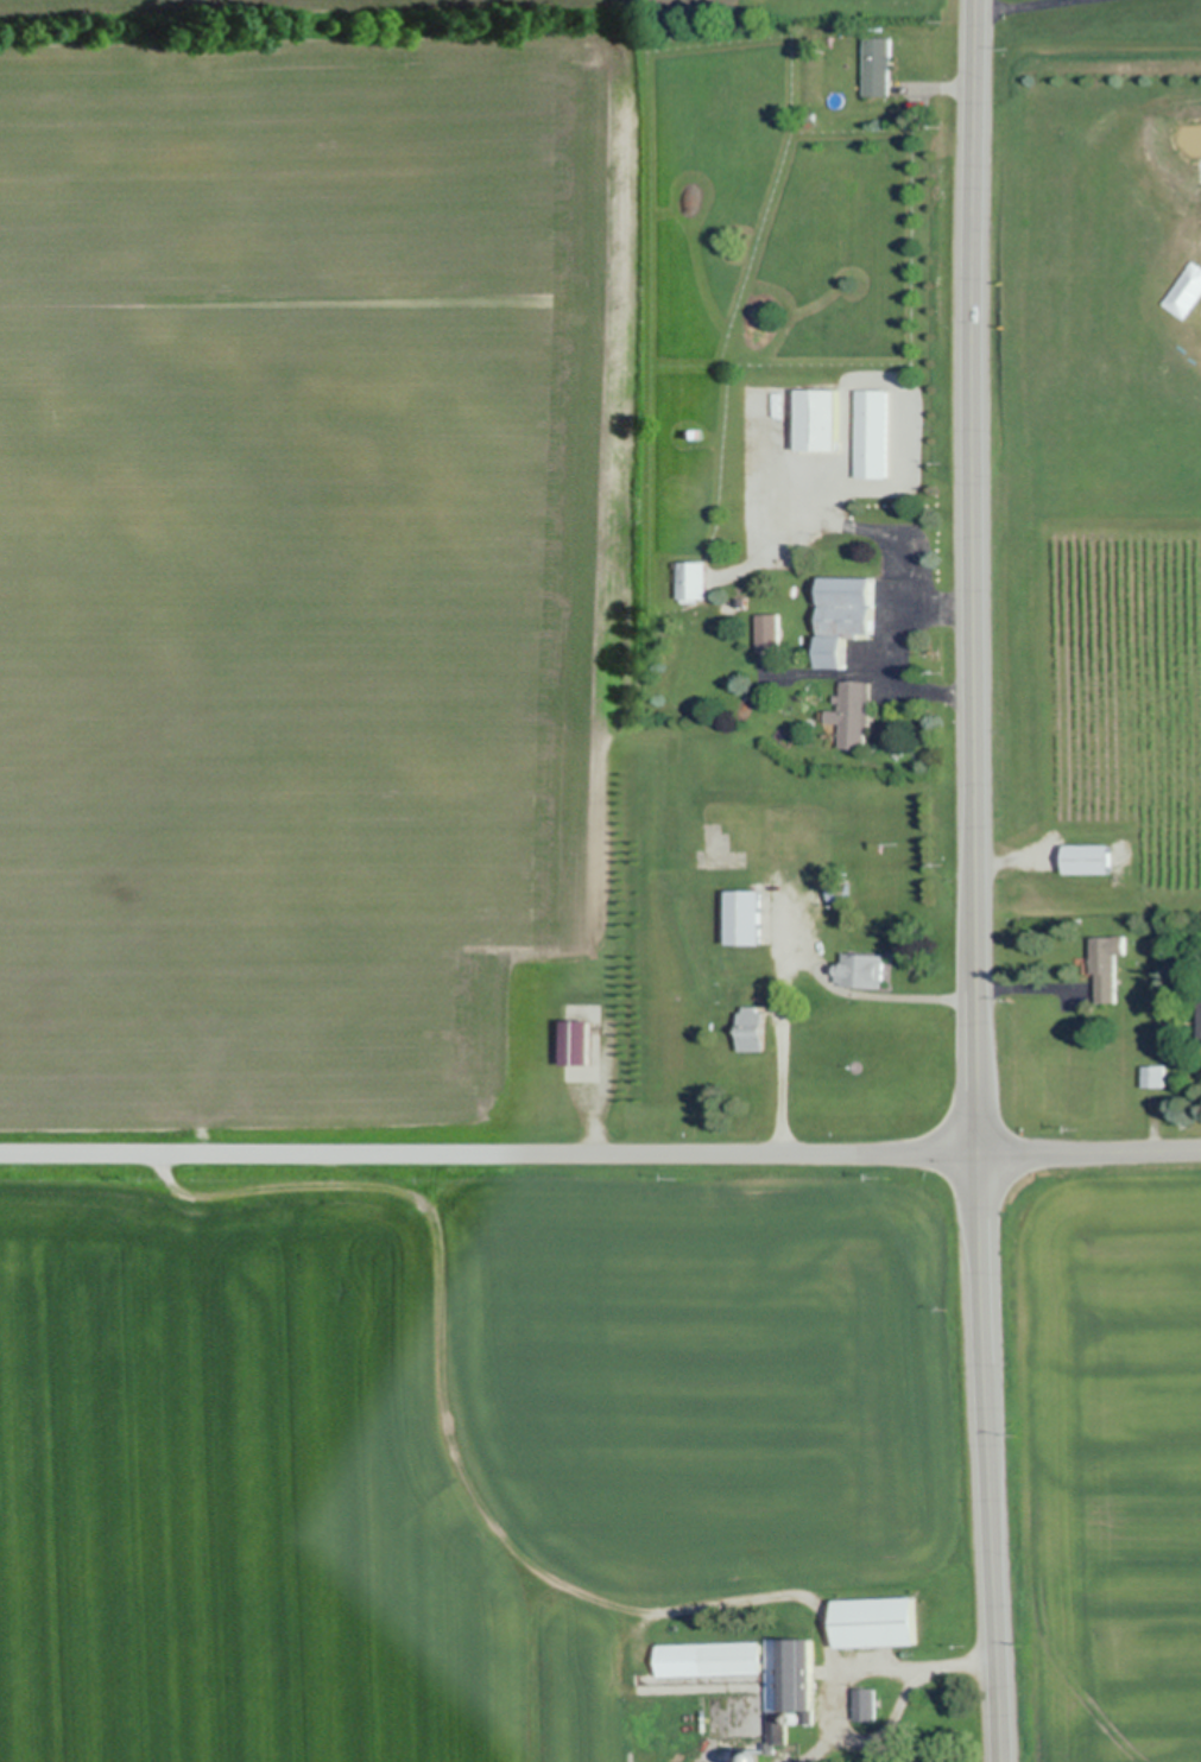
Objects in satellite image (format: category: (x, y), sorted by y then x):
building: (877, 65)
building: (817, 420)
building: (871, 433)
building: (693, 581)
building: (842, 616)
building: (767, 633)
building: (853, 716)
building: (1086, 860)
road: (975, 881)
building: (744, 918)
road: (795, 956)
building: (1104, 968)
building: (862, 971)
building: (1200, 1016)
building: (752, 1031)
building: (575, 1044)
building: (1153, 1077)
road: (1091, 1152)
road: (491, 1154)
building: (877, 1622)
building: (710, 1660)
building: (791, 1677)
building: (867, 1705)

